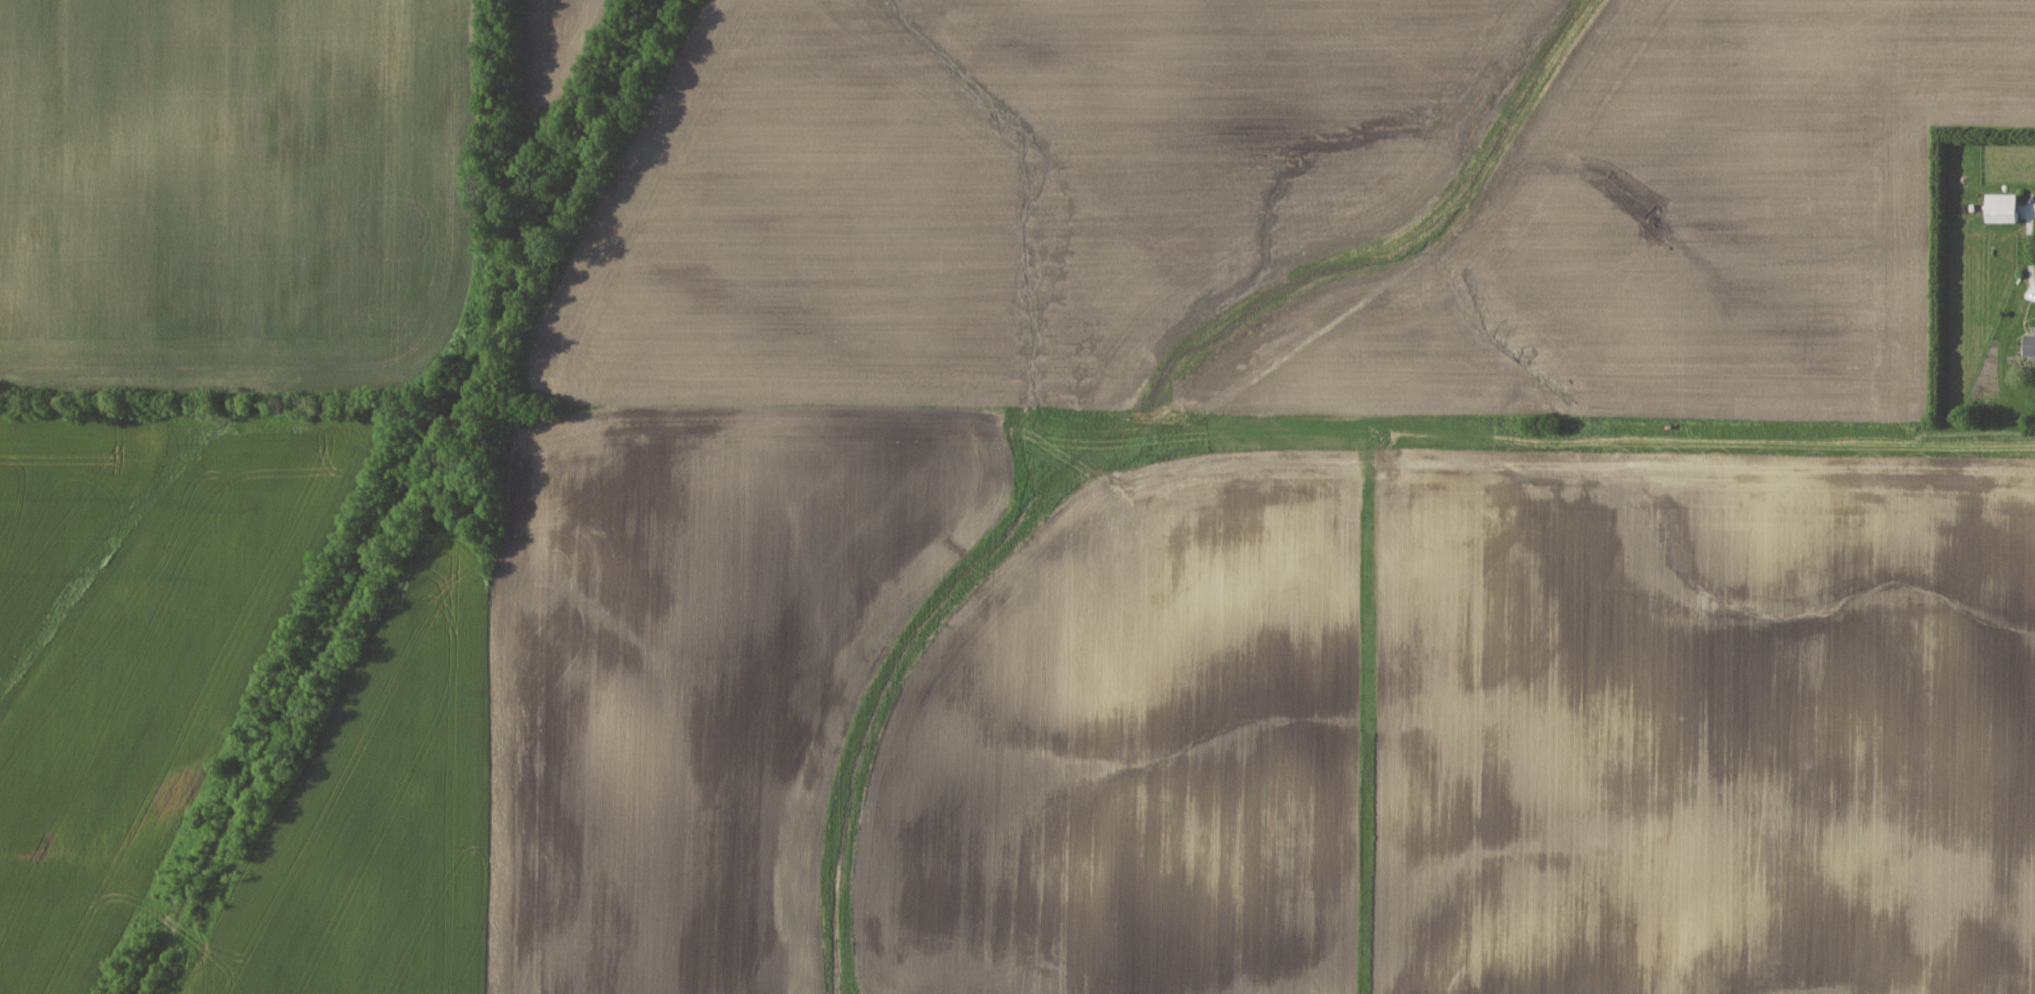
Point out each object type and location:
road: (2033, 246)

